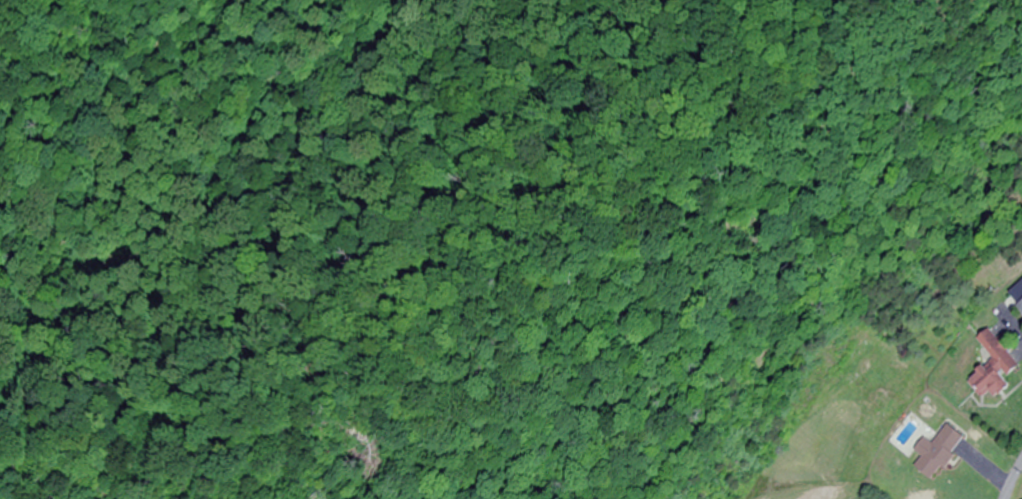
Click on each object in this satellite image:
building: (1021, 308)
building: (997, 368)
building: (939, 451)
road: (1009, 479)
road: (835, 488)

